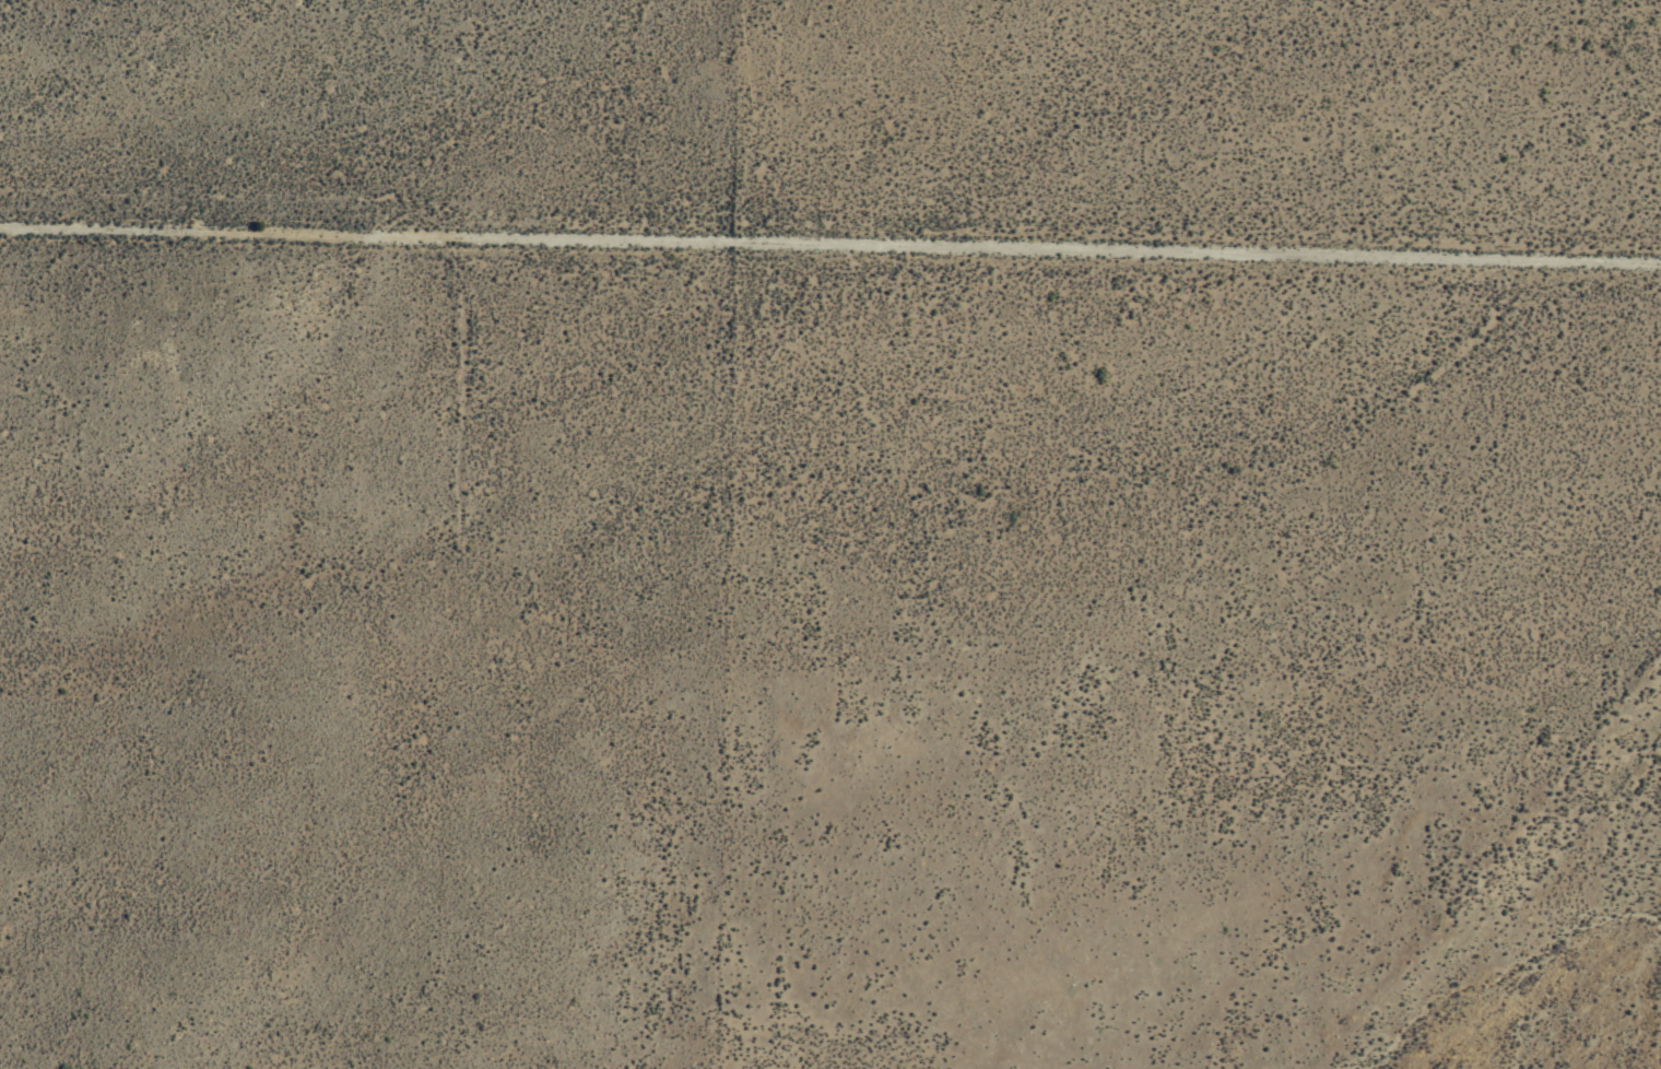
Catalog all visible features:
road: (830, 242)
crop: (903, 564)

